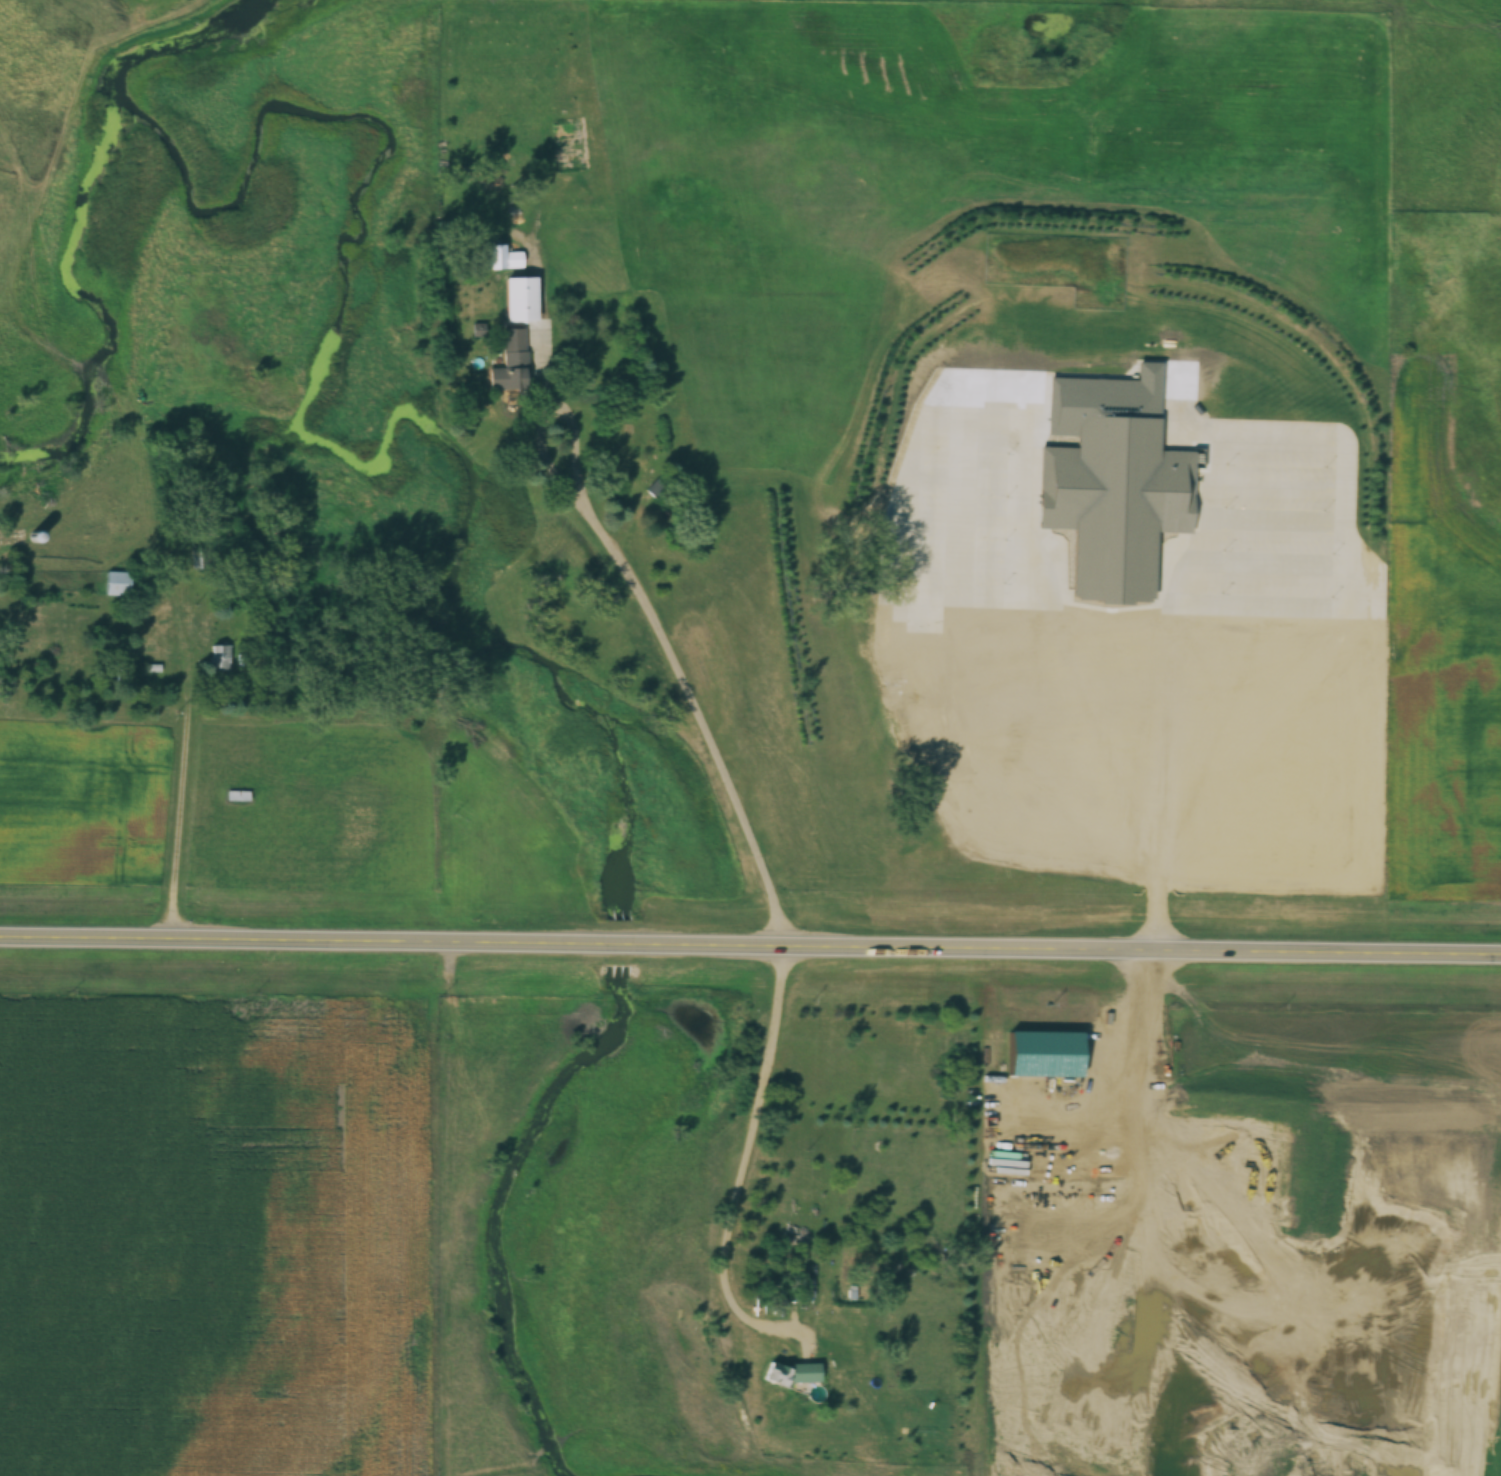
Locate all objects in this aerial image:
building: (499, 257)
building: (509, 362)
building: (627, 469)
building: (1114, 478)
building: (115, 582)
road: (181, 649)
building: (217, 656)
road: (649, 665)
parking lot: (1142, 669)
building: (1216, 725)
building: (236, 795)
road: (1161, 847)
road: (750, 946)
building: (805, 1288)
building: (790, 1373)

